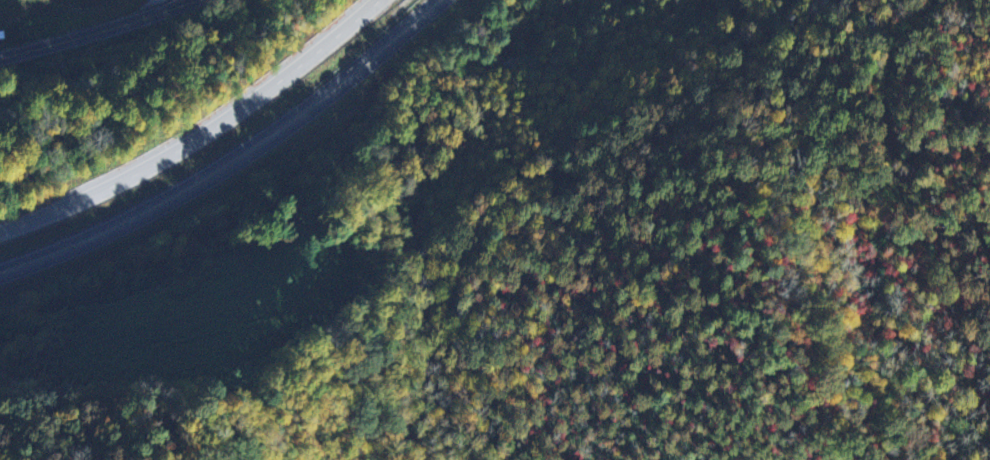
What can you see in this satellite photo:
road: (98, 30)
road: (200, 135)
road: (236, 162)
power tower: (476, 180)
power tower: (295, 291)
power tower: (74, 348)

